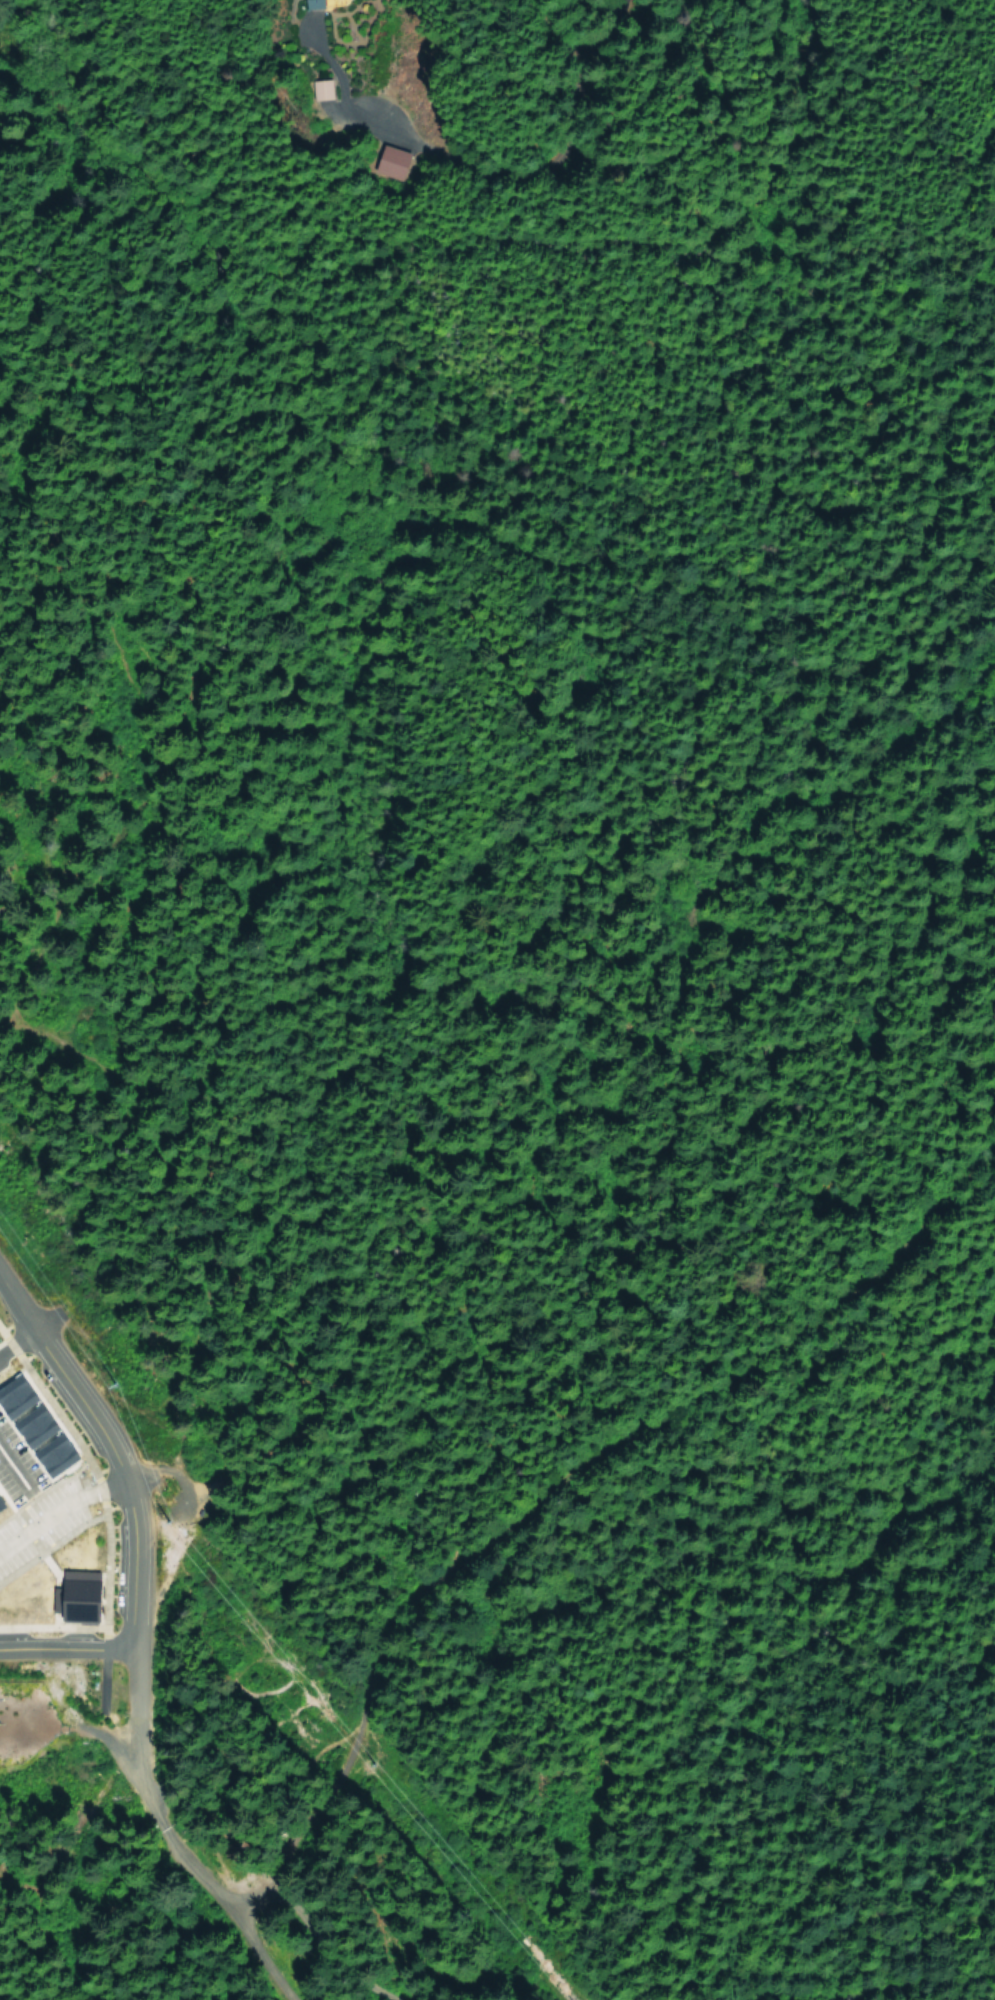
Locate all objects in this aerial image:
building: (308, 4)
building: (317, 88)
building: (388, 162)
road: (641, 178)
road: (39, 628)
road: (840, 1203)
road: (217, 1256)
road: (22, 1339)
road: (5, 1350)
road: (180, 1366)
power tower: (113, 1384)
building: (30, 1429)
road: (110, 1451)
road: (168, 1470)
road: (12, 1471)
road: (549, 1486)
road: (102, 1487)
road: (104, 1516)
power tower: (166, 1520)
parking lot: (39, 1521)
road: (39, 1521)
building: (76, 1596)
road: (68, 1649)
road: (135, 1741)
road: (226, 1760)
power tower: (373, 1760)
park: (333, 1805)
road: (230, 1915)
road: (241, 1949)
road: (333, 1951)

